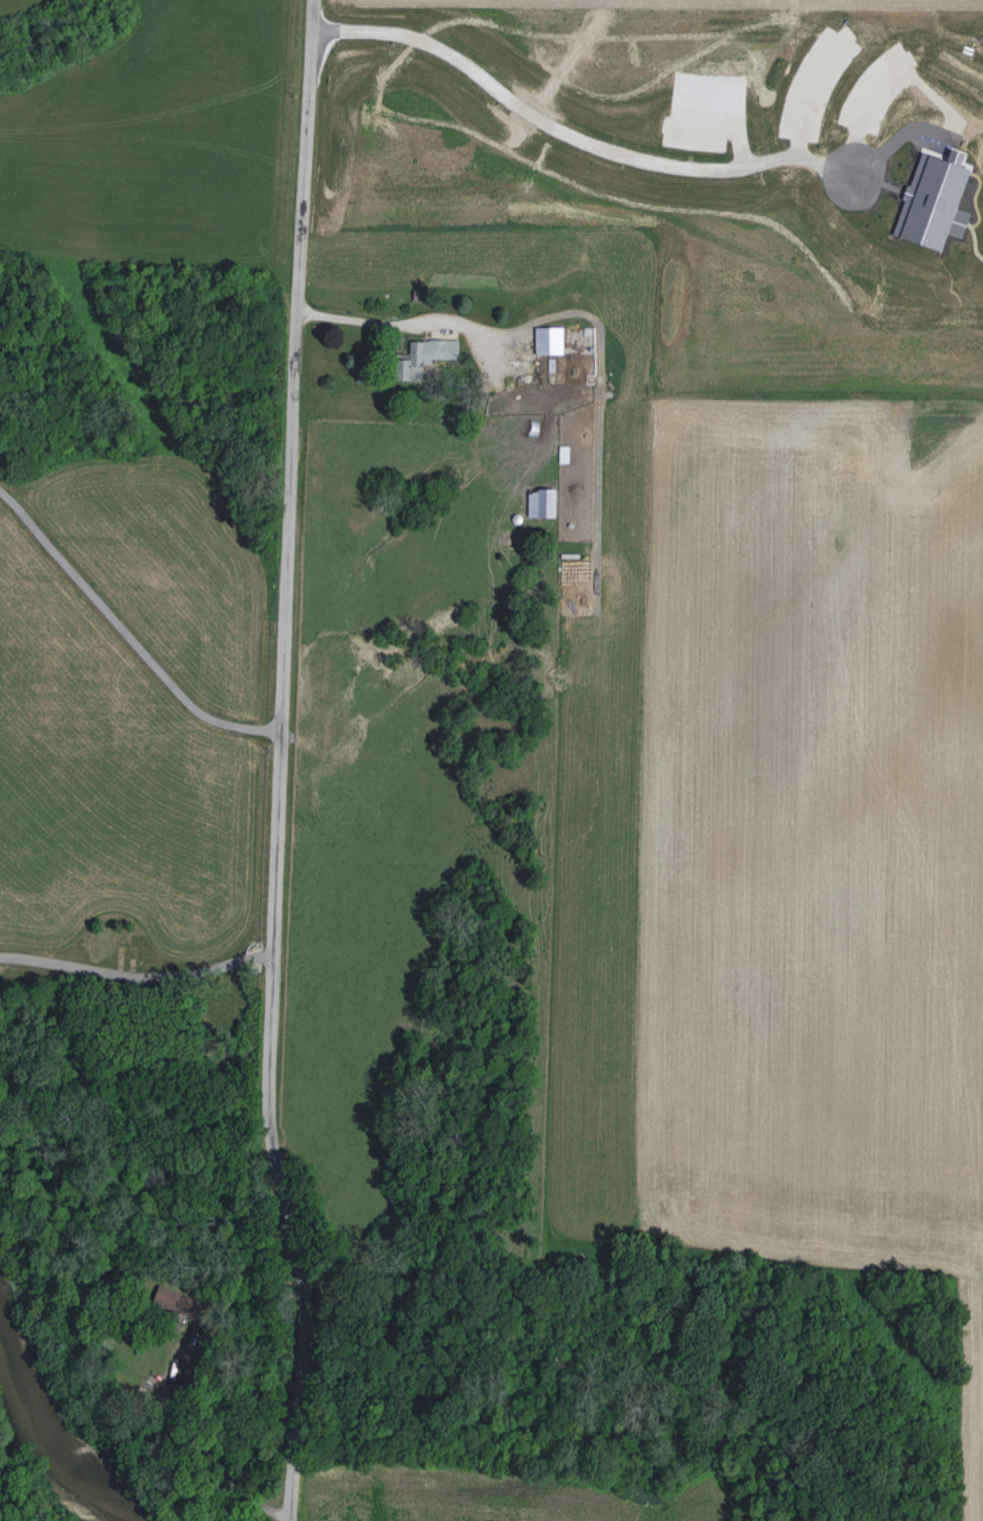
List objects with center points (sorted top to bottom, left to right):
building: (934, 202)
road: (462, 324)
building: (549, 340)
building: (427, 356)
building: (541, 503)
road: (127, 634)
road: (280, 762)
road: (137, 972)
building: (176, 1301)
river: (48, 1461)

